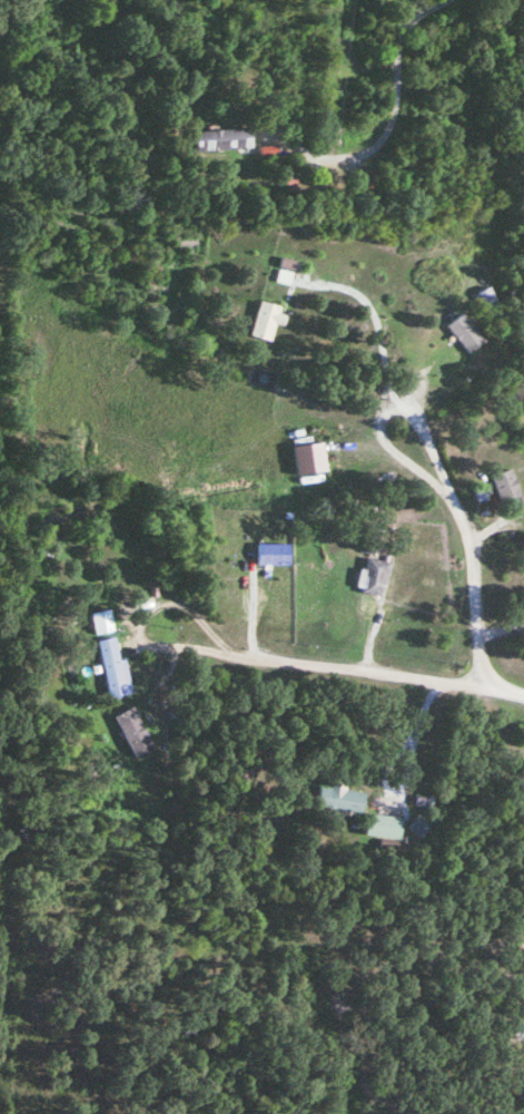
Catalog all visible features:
road: (379, 117)
building: (219, 141)
building: (483, 301)
building: (266, 320)
building: (458, 333)
road: (379, 334)
building: (503, 488)
road: (443, 496)
building: (372, 578)
road: (469, 606)
road: (196, 619)
building: (99, 623)
building: (109, 668)
road: (375, 672)
road: (408, 750)
building: (337, 800)
building: (380, 819)
building: (517, 1029)

